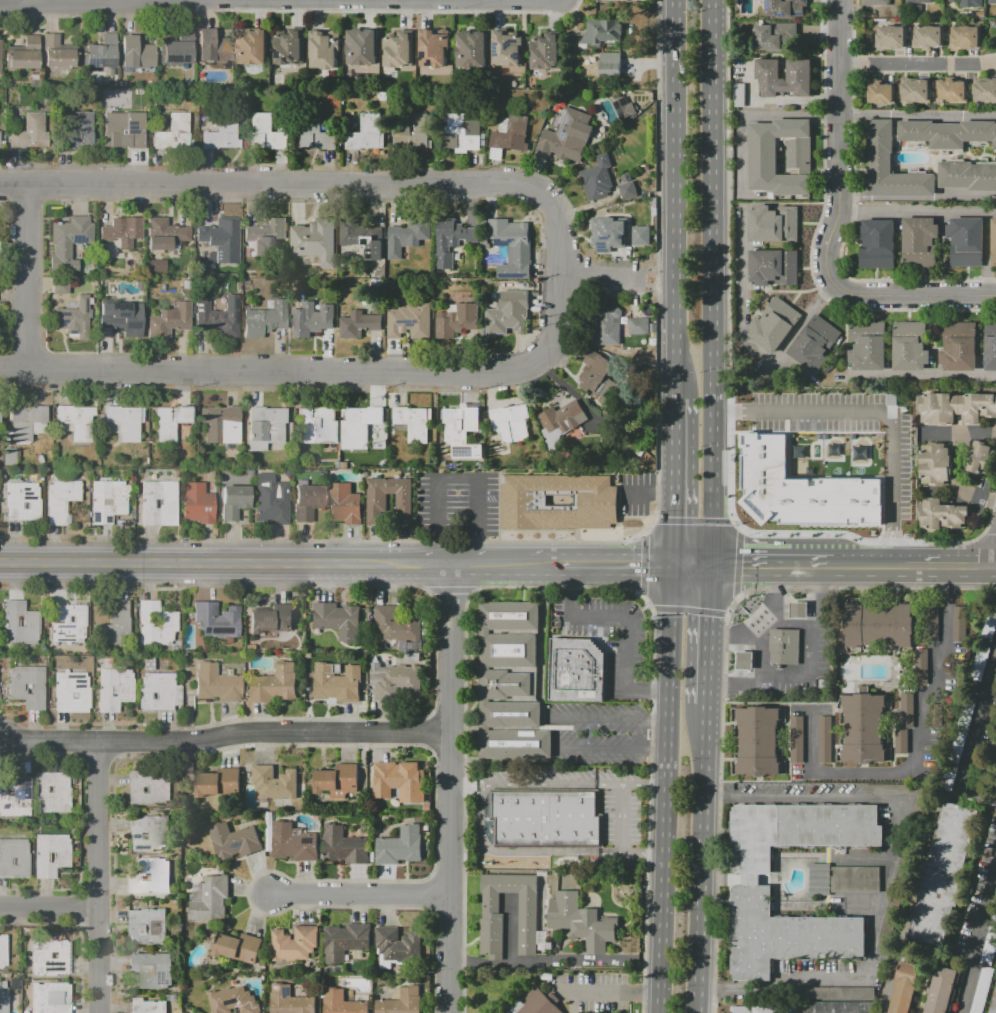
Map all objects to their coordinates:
road: (106, 0)
building: (919, 0)
building: (992, 2)
building: (875, 3)
building: (969, 3)
road: (577, 5)
road: (537, 6)
building: (785, 8)
road: (287, 11)
building: (980, 14)
building: (870, 15)
building: (602, 31)
building: (890, 35)
building: (928, 36)
building: (775, 37)
building: (964, 38)
building: (213, 46)
building: (252, 46)
building: (361, 47)
building: (178, 48)
building: (432, 48)
building: (506, 48)
building: (288, 49)
building: (323, 49)
building: (470, 49)
building: (398, 50)
building: (57, 51)
building: (101, 51)
building: (543, 51)
building: (135, 52)
building: (23, 54)
building: (609, 64)
road: (917, 65)
building: (798, 69)
building: (915, 91)
building: (952, 91)
building: (984, 91)
building: (879, 92)
building: (738, 95)
building: (624, 108)
road: (854, 115)
road: (932, 115)
building: (77, 132)
building: (173, 132)
building: (409, 132)
building: (460, 132)
building: (30, 133)
building: (122, 133)
building: (221, 133)
building: (315, 133)
building: (947, 133)
building: (266, 134)
building: (366, 134)
building: (511, 134)
building: (567, 135)
building: (2, 138)
building: (762, 154)
building: (890, 164)
road: (357, 168)
building: (967, 175)
building: (597, 178)
road: (314, 184)
building: (627, 187)
road: (678, 194)
road: (933, 196)
road: (855, 197)
road: (309, 200)
road: (918, 214)
building: (773, 224)
road: (833, 225)
building: (122, 230)
building: (165, 233)
building: (607, 234)
building: (265, 236)
building: (407, 236)
building: (640, 236)
building: (222, 237)
building: (361, 238)
building: (315, 239)
building: (452, 240)
building: (965, 240)
building: (919, 241)
building: (993, 241)
building: (68, 242)
building: (876, 243)
building: (512, 247)
road: (559, 250)
building: (774, 267)
road: (24, 275)
road: (657, 276)
road: (606, 279)
road: (665, 280)
road: (713, 284)
building: (59, 286)
building: (508, 314)
building: (122, 318)
building: (221, 318)
building: (73, 319)
building: (312, 319)
building: (169, 320)
building: (264, 320)
building: (457, 320)
building: (409, 321)
building: (358, 323)
building: (772, 323)
building: (638, 325)
building: (605, 327)
building: (814, 343)
building: (910, 345)
building: (867, 346)
building: (959, 346)
building: (990, 346)
building: (595, 365)
road: (316, 372)
road: (925, 376)
building: (890, 399)
building: (955, 408)
road: (860, 412)
building: (124, 420)
building: (25, 421)
building: (76, 421)
building: (168, 422)
building: (217, 422)
building: (414, 422)
building: (509, 422)
building: (560, 424)
building: (319, 425)
building: (359, 425)
building: (265, 427)
building: (458, 431)
building: (9, 456)
building: (979, 457)
road: (958, 460)
building: (935, 464)
building: (210, 476)
road: (678, 478)
road: (458, 479)
building: (800, 490)
road: (640, 494)
road: (666, 494)
building: (376, 499)
building: (402, 499)
building: (21, 500)
building: (59, 500)
building: (271, 500)
building: (107, 501)
building: (233, 501)
building: (556, 501)
building: (168, 502)
building: (307, 502)
building: (156, 503)
building: (197, 504)
building: (344, 504)
building: (941, 514)
road: (692, 520)
road: (735, 526)
road: (649, 528)
road: (884, 544)
road: (896, 545)
road: (738, 563)
road: (218, 564)
road: (950, 565)
road: (643, 566)
road: (859, 566)
road: (890, 566)
road: (901, 566)
road: (470, 567)
road: (773, 567)
road: (528, 568)
road: (615, 568)
road: (695, 568)
traffic signals: (713, 568)
traffic signals: (677, 569)
road: (688, 609)
building: (800, 610)
building: (271, 619)
road: (760, 619)
building: (337, 620)
building: (218, 621)
road: (789, 621)
building: (20, 623)
building: (69, 623)
building: (115, 623)
building: (154, 623)
building: (397, 623)
building: (930, 623)
building: (962, 624)
road: (625, 625)
building: (881, 626)
road: (709, 636)
building: (786, 647)
gas station: (786, 647)
road: (759, 653)
building: (747, 660)
building: (920, 665)
building: (577, 671)
road: (812, 672)
building: (394, 682)
building: (509, 682)
road: (989, 682)
building: (215, 683)
building: (274, 683)
building: (337, 683)
building: (27, 686)
building: (113, 689)
building: (156, 691)
building: (70, 692)
building: (905, 709)
building: (866, 729)
road: (522, 732)
road: (228, 735)
road: (642, 735)
building: (795, 739)
building: (823, 739)
building: (760, 740)
building: (899, 741)
road: (918, 752)
building: (337, 781)
building: (396, 781)
building: (217, 782)
building: (275, 783)
road: (632, 783)
road: (463, 785)
road: (482, 785)
building: (146, 787)
road: (450, 789)
road: (670, 791)
building: (51, 792)
building: (14, 796)
road: (717, 802)
road: (648, 803)
building: (546, 818)
road: (622, 819)
road: (478, 821)
building: (147, 833)
building: (234, 841)
building: (294, 841)
building: (344, 846)
building: (401, 846)
building: (50, 854)
road: (633, 855)
building: (13, 857)
road: (704, 859)
building: (943, 873)
building: (150, 876)
road: (888, 876)
road: (99, 877)
building: (819, 880)
building: (855, 880)
road: (362, 892)
building: (211, 899)
building: (751, 901)
road: (49, 905)
building: (493, 916)
building: (580, 922)
building: (148, 925)
building: (992, 927)
road: (976, 939)
building: (344, 941)
building: (294, 944)
building: (398, 944)
building: (238, 948)
building: (3, 951)
building: (988, 953)
building: (48, 958)
road: (556, 958)
building: (152, 969)
building: (903, 987)
building: (982, 989)
building: (940, 990)
road: (612, 991)
building: (836, 993)
building: (49, 998)
building: (3, 1000)
building: (289, 1000)
building: (234, 1001)
building: (343, 1002)
building: (402, 1002)
building: (993, 1002)
building: (534, 1004)
building: (146, 1006)
building: (838, 1007)
building: (740, 1009)
building: (772, 1009)

